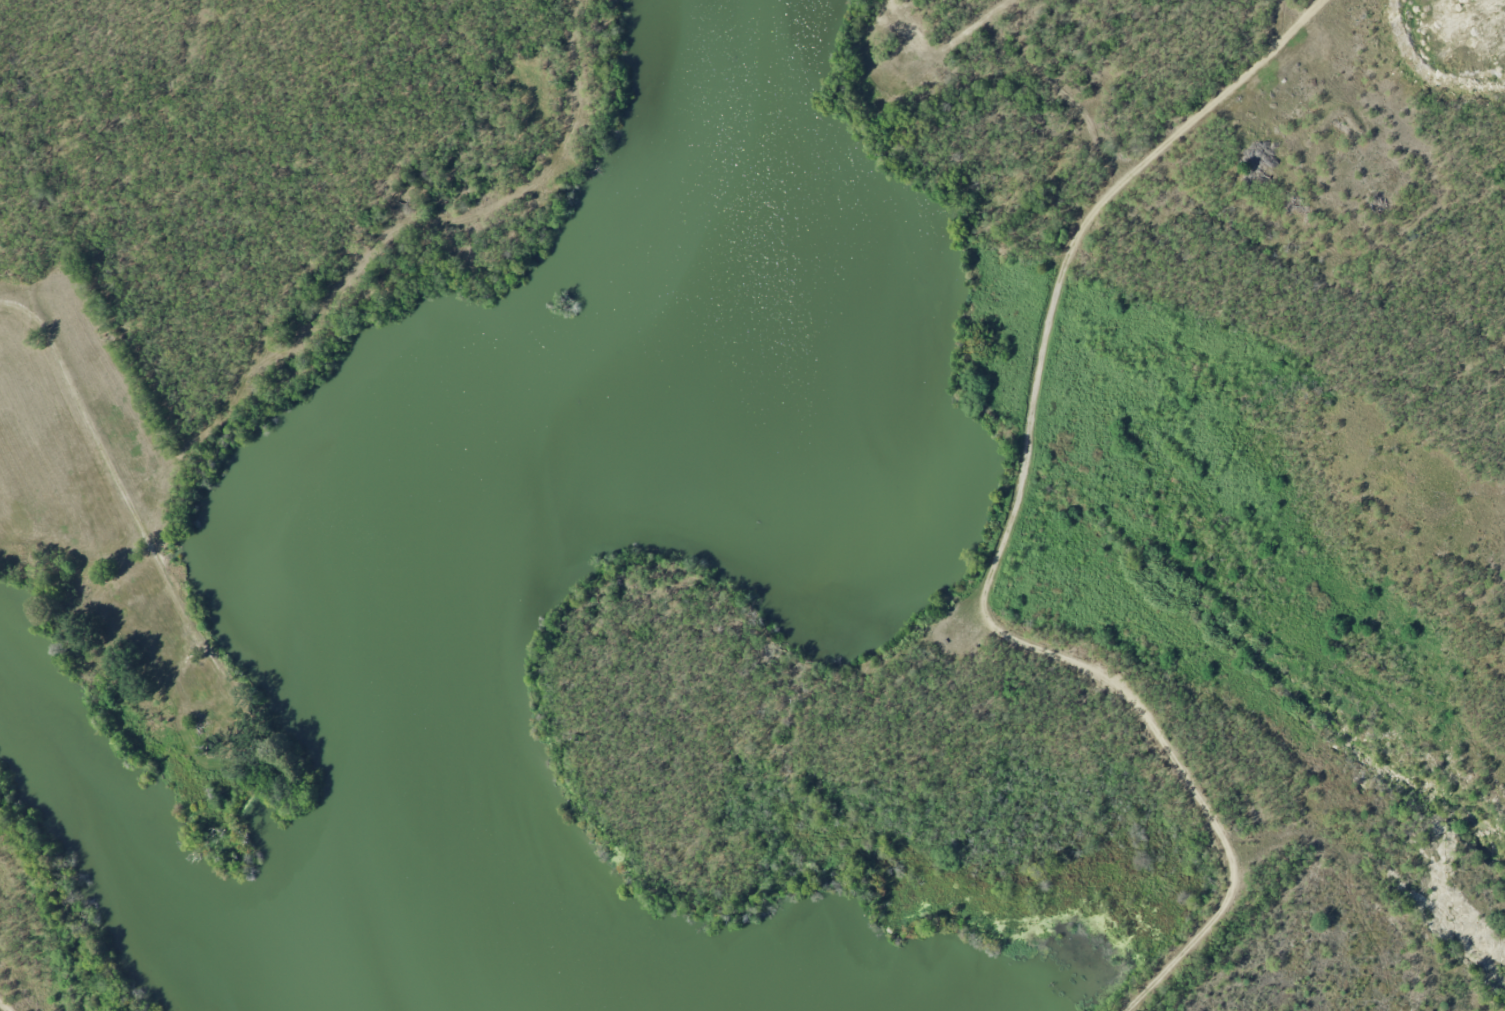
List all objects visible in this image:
road: (1064, 91)
road: (1005, 533)

